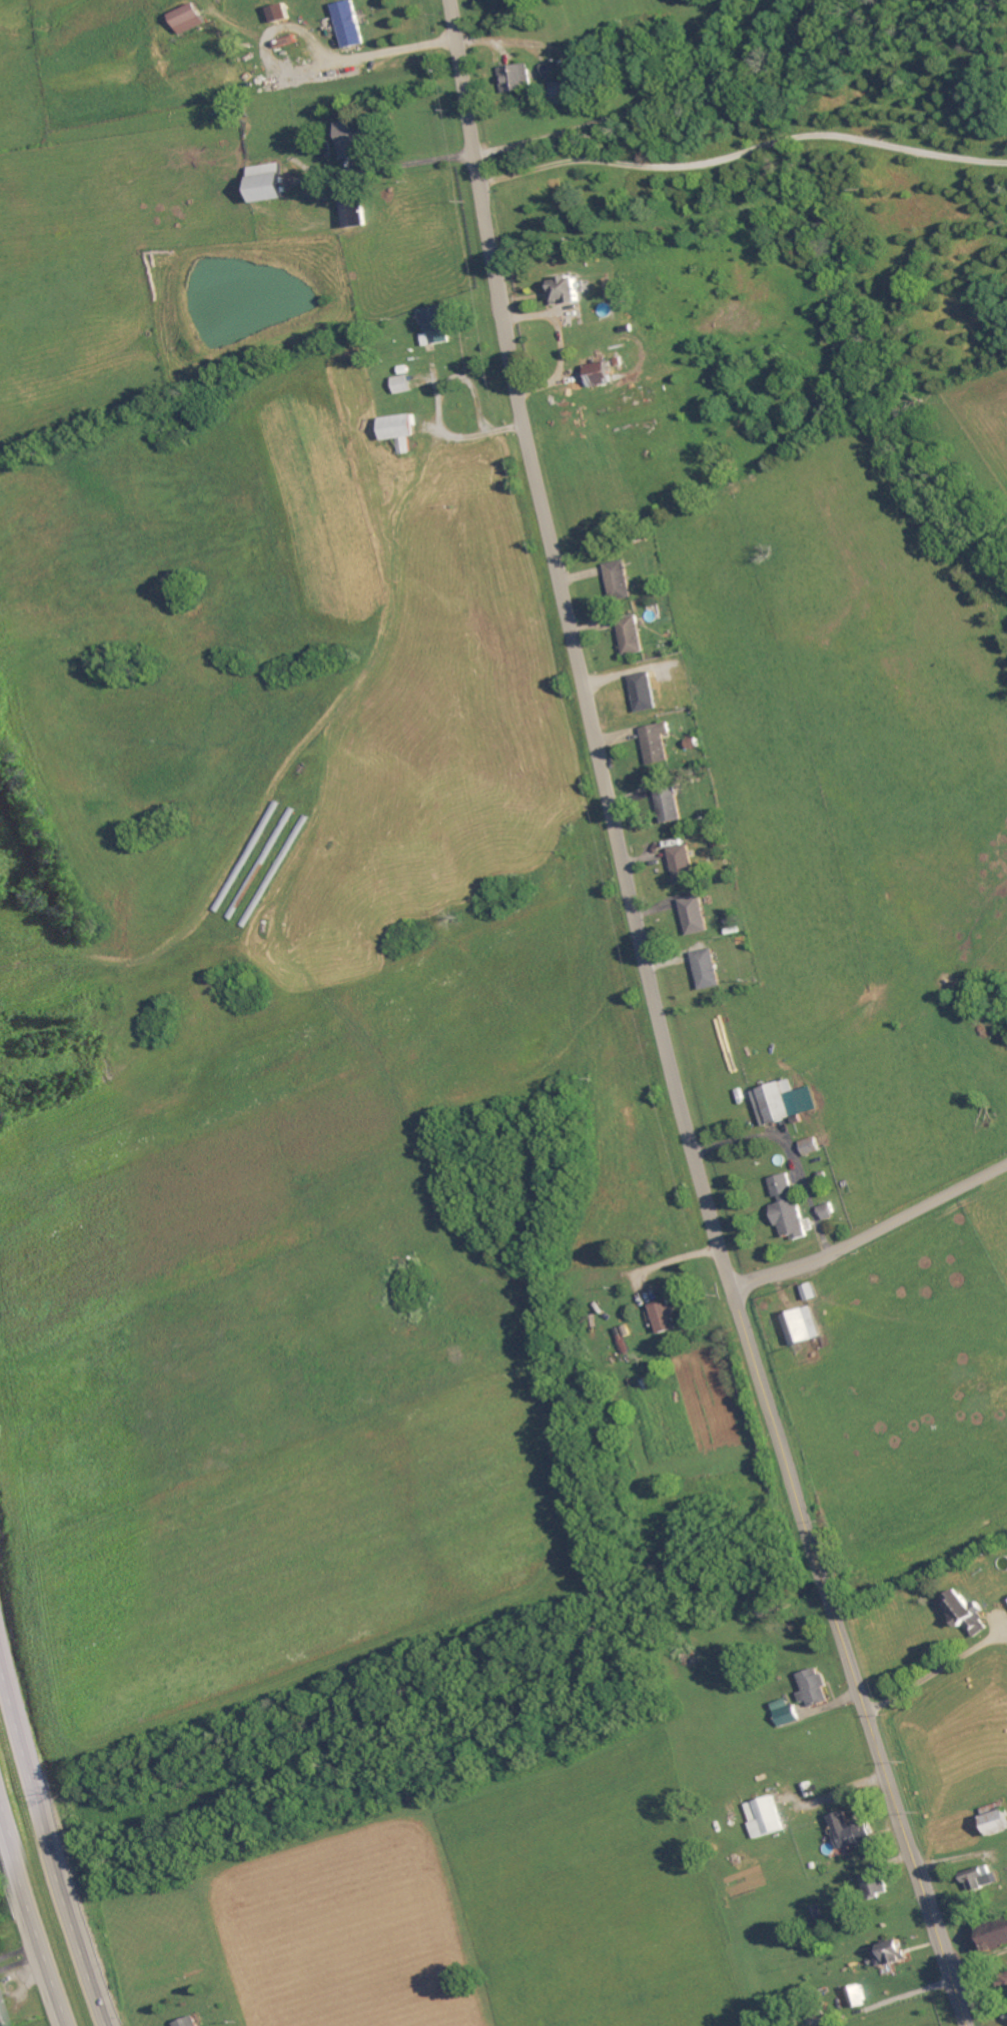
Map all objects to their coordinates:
building: (191, 20)
building: (351, 25)
road: (308, 73)
building: (519, 79)
building: (561, 85)
road: (631, 111)
building: (354, 141)
road: (744, 155)
road: (411, 164)
building: (271, 184)
building: (357, 215)
building: (568, 292)
building: (439, 326)
building: (603, 375)
building: (404, 385)
building: (403, 432)
building: (620, 582)
building: (633, 638)
road: (576, 648)
building: (645, 693)
building: (658, 743)
building: (670, 804)
building: (685, 865)
building: (696, 916)
building: (709, 970)
building: (786, 1103)
building: (813, 1147)
building: (791, 1209)
building: (830, 1213)
road: (871, 1234)
building: (812, 1293)
building: (666, 1317)
building: (805, 1327)
building: (968, 1615)
road: (851, 1657)
building: (815, 1689)
building: (786, 1713)
building: (766, 1818)
building: (998, 1824)
road: (46, 1830)
building: (853, 1832)
building: (982, 1879)
building: (876, 1885)
road: (33, 1910)
building: (996, 1935)
building: (893, 1955)
building: (859, 1996)
building: (3, 2016)
building: (192, 2022)

